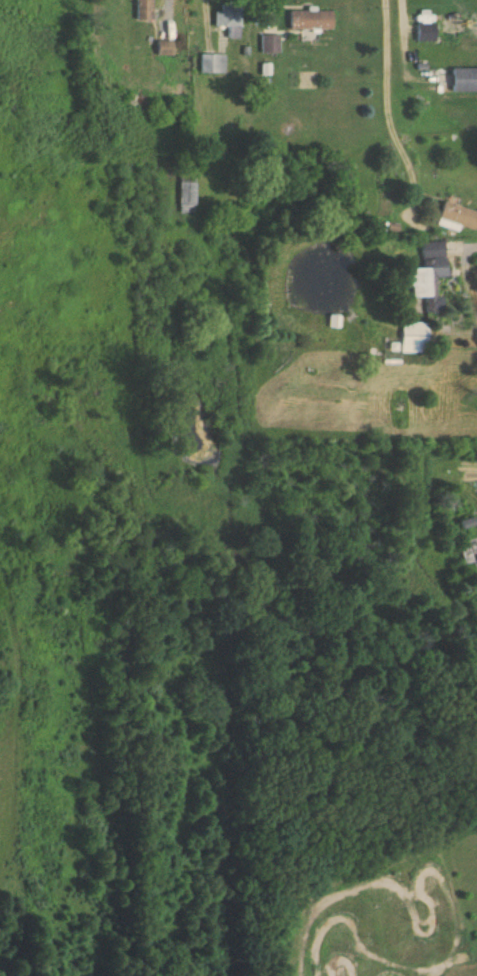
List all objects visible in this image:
building: (143, 8)
road: (406, 14)
building: (310, 19)
building: (457, 28)
building: (424, 32)
building: (269, 44)
building: (211, 63)
building: (464, 80)
road: (390, 97)
road: (71, 168)
building: (186, 192)
road: (45, 204)
building: (453, 212)
road: (25, 215)
road: (0, 238)
building: (429, 274)
road: (106, 287)
building: (414, 336)
building: (469, 552)

